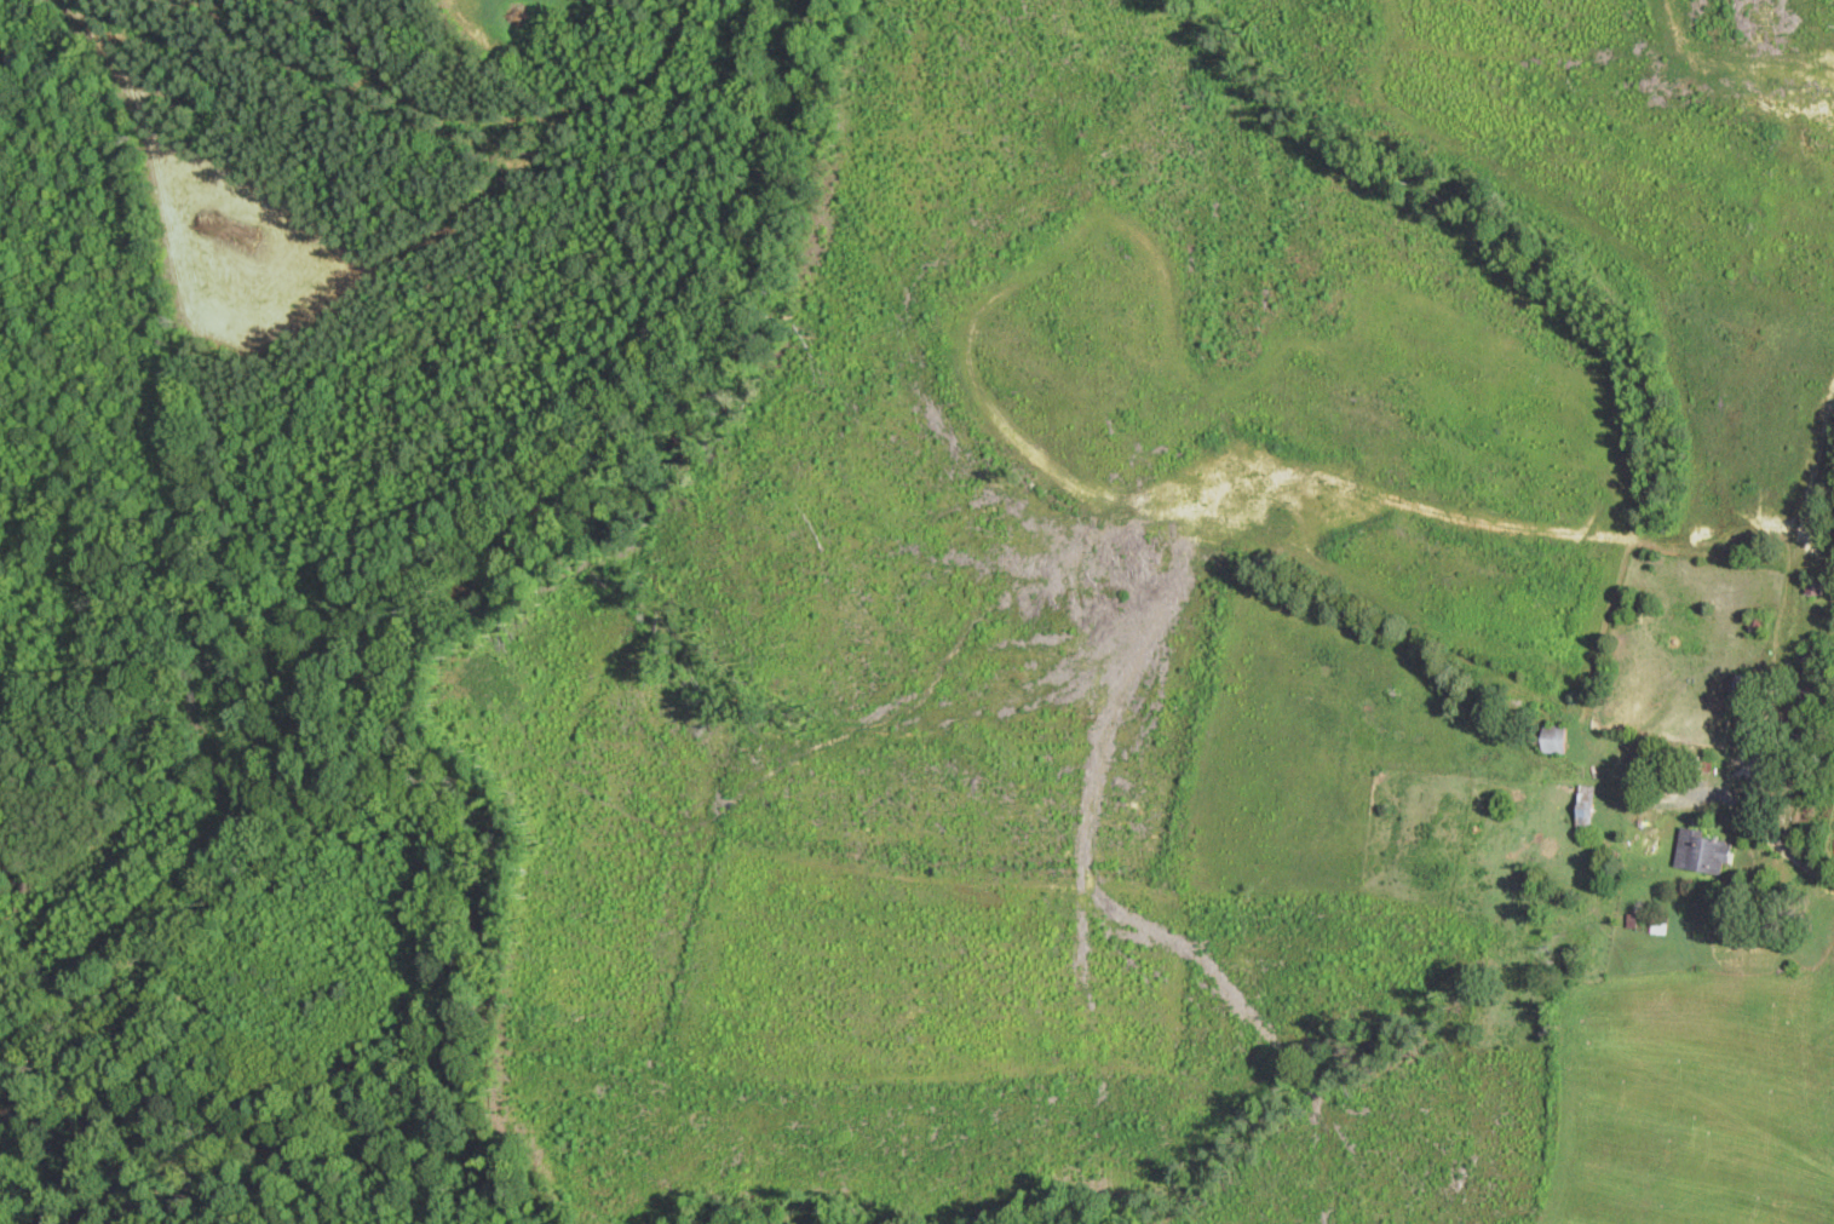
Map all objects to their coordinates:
road: (412, 160)
building: (1755, 628)
building: (1551, 739)
building: (1583, 809)
road: (1781, 845)
building: (1702, 854)

